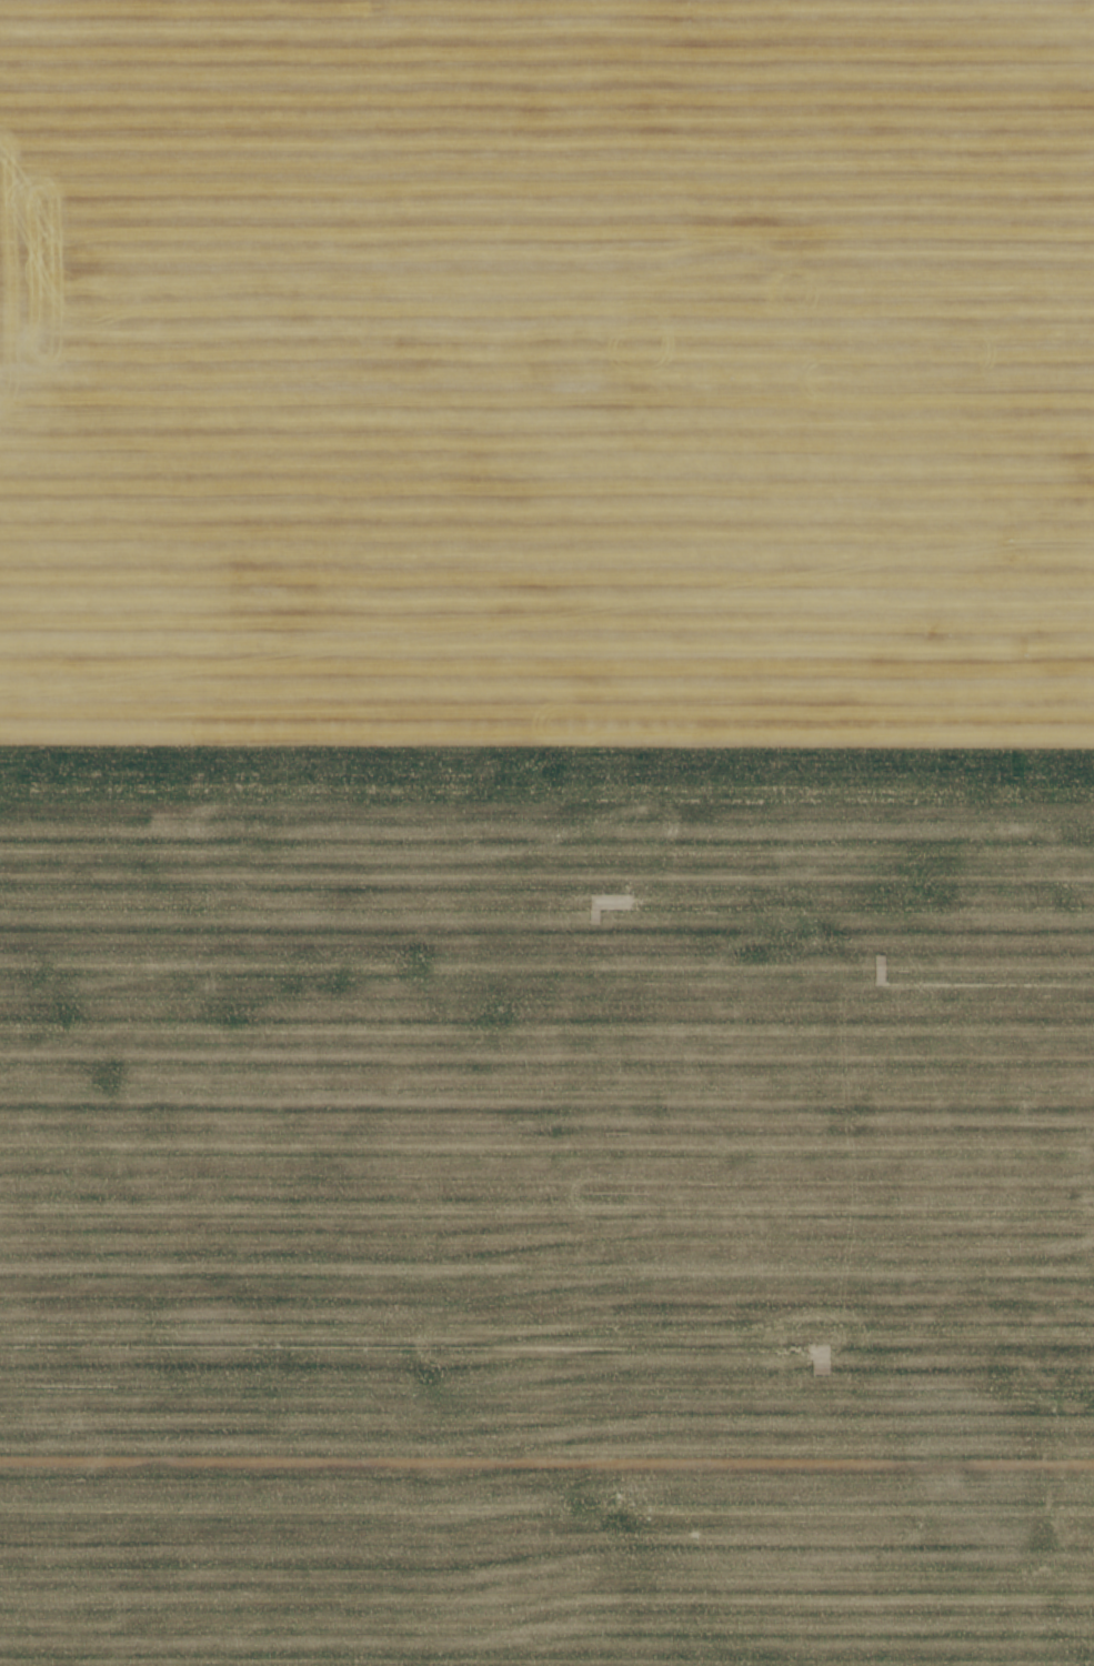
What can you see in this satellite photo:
crop: (546, 833)

